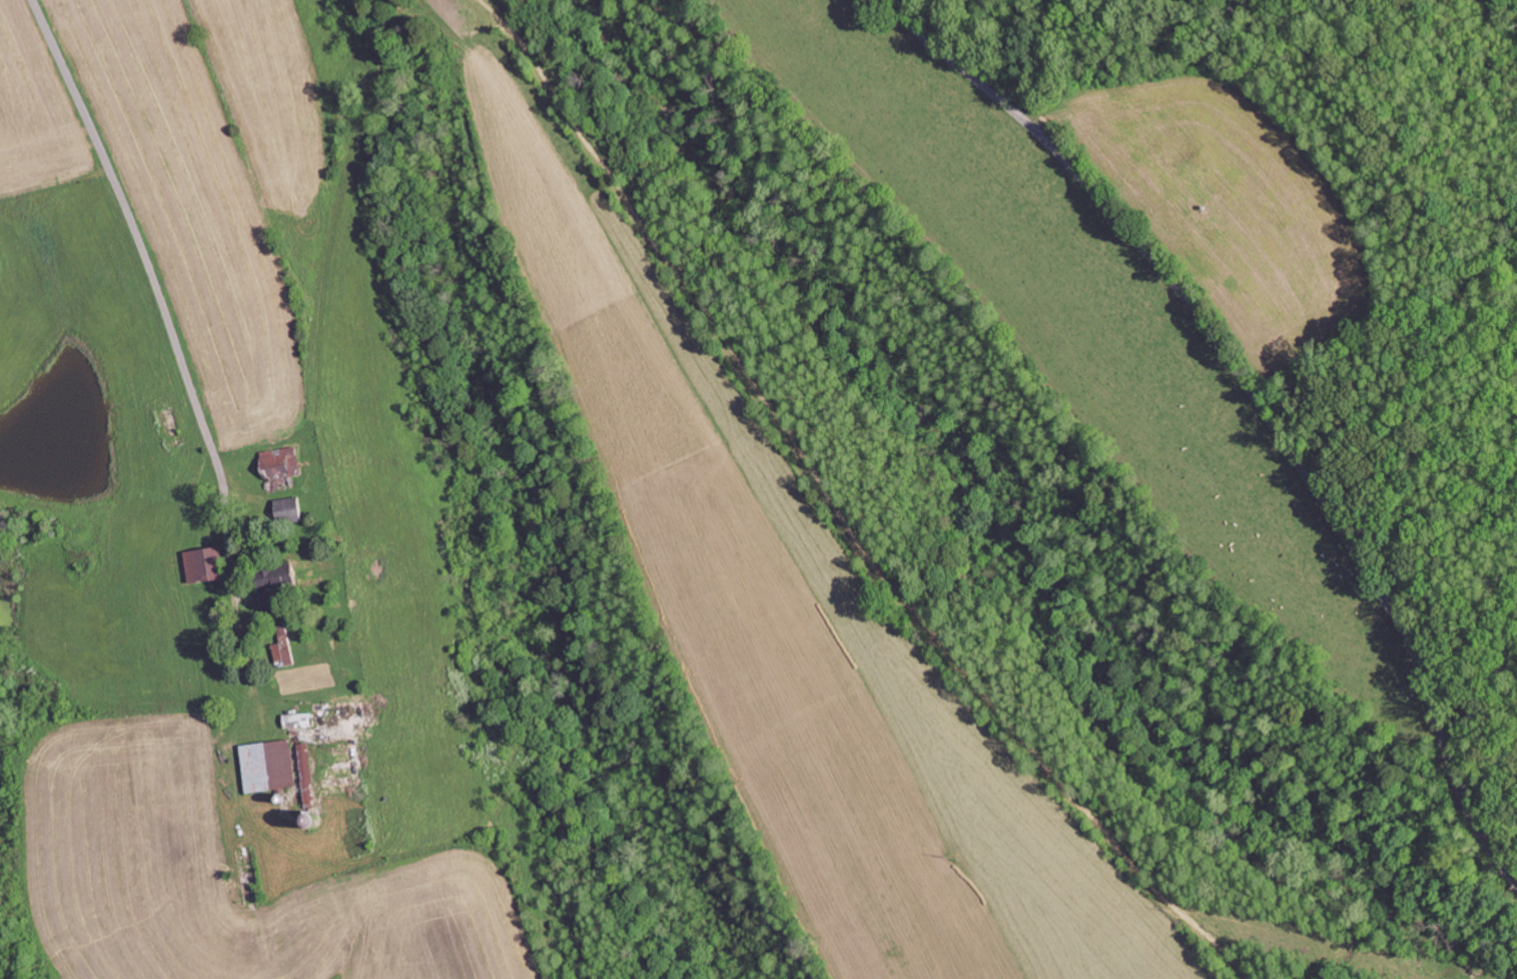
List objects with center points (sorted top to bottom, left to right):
road: (132, 226)
road: (1258, 403)
building: (279, 462)
building: (203, 565)
building: (273, 586)
building: (281, 647)
building: (299, 718)
building: (267, 766)
building: (306, 776)

